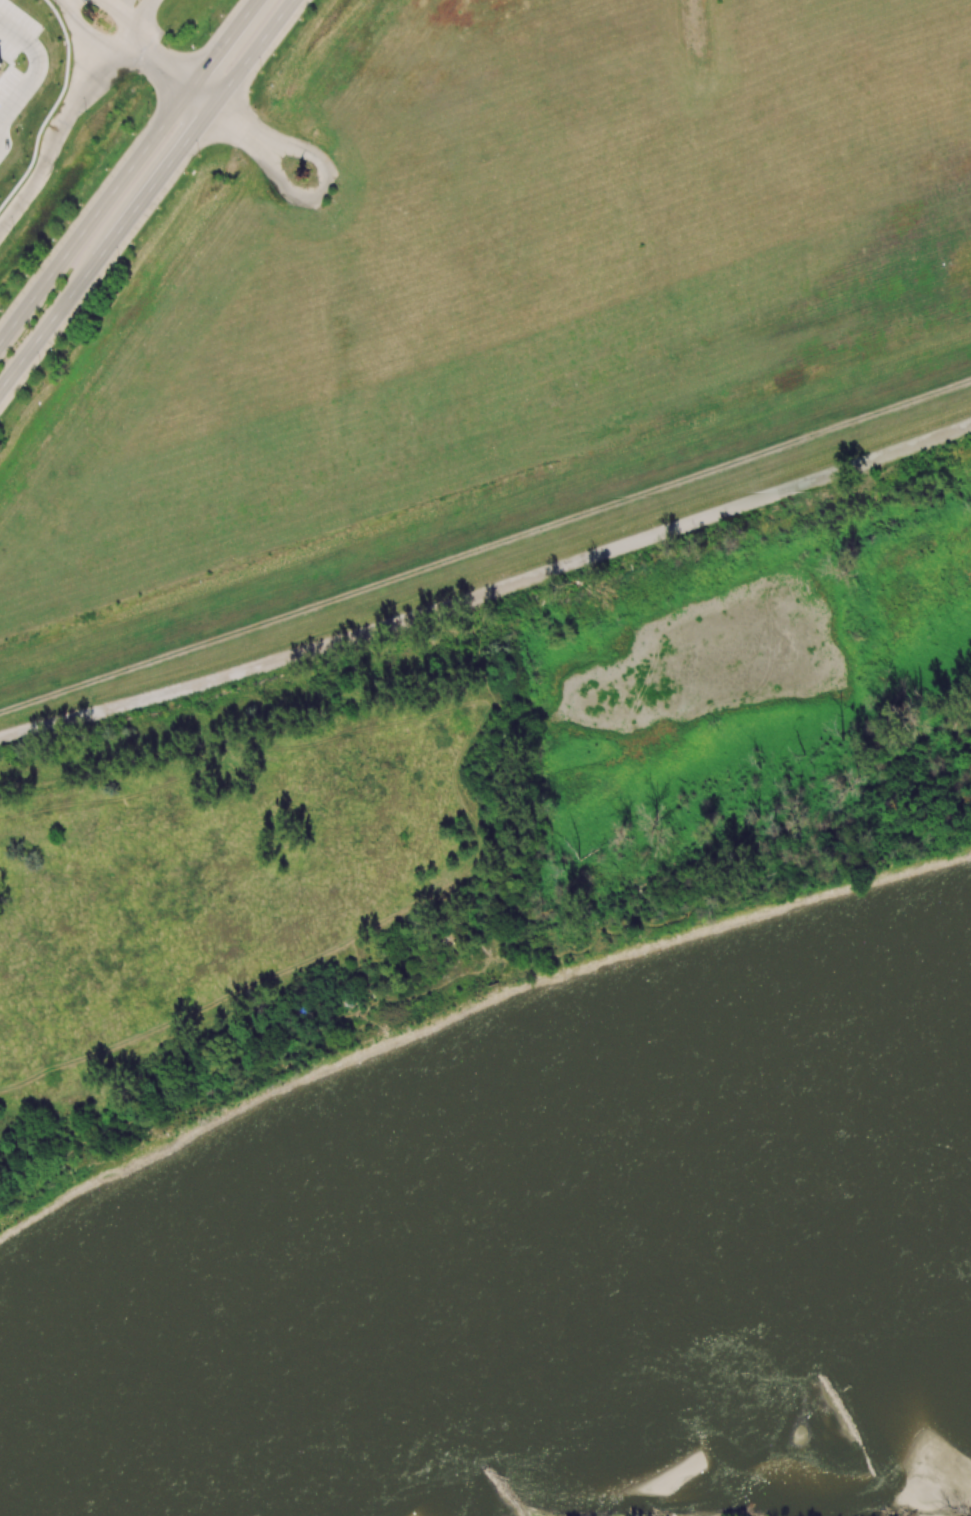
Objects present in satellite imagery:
road: (118, 16)
road: (88, 35)
road: (255, 52)
building: (0, 60)
road: (173, 71)
road: (28, 79)
road: (69, 110)
road: (234, 131)
road: (128, 170)
road: (315, 194)
road: (108, 246)
road: (488, 592)
river: (492, 1290)

